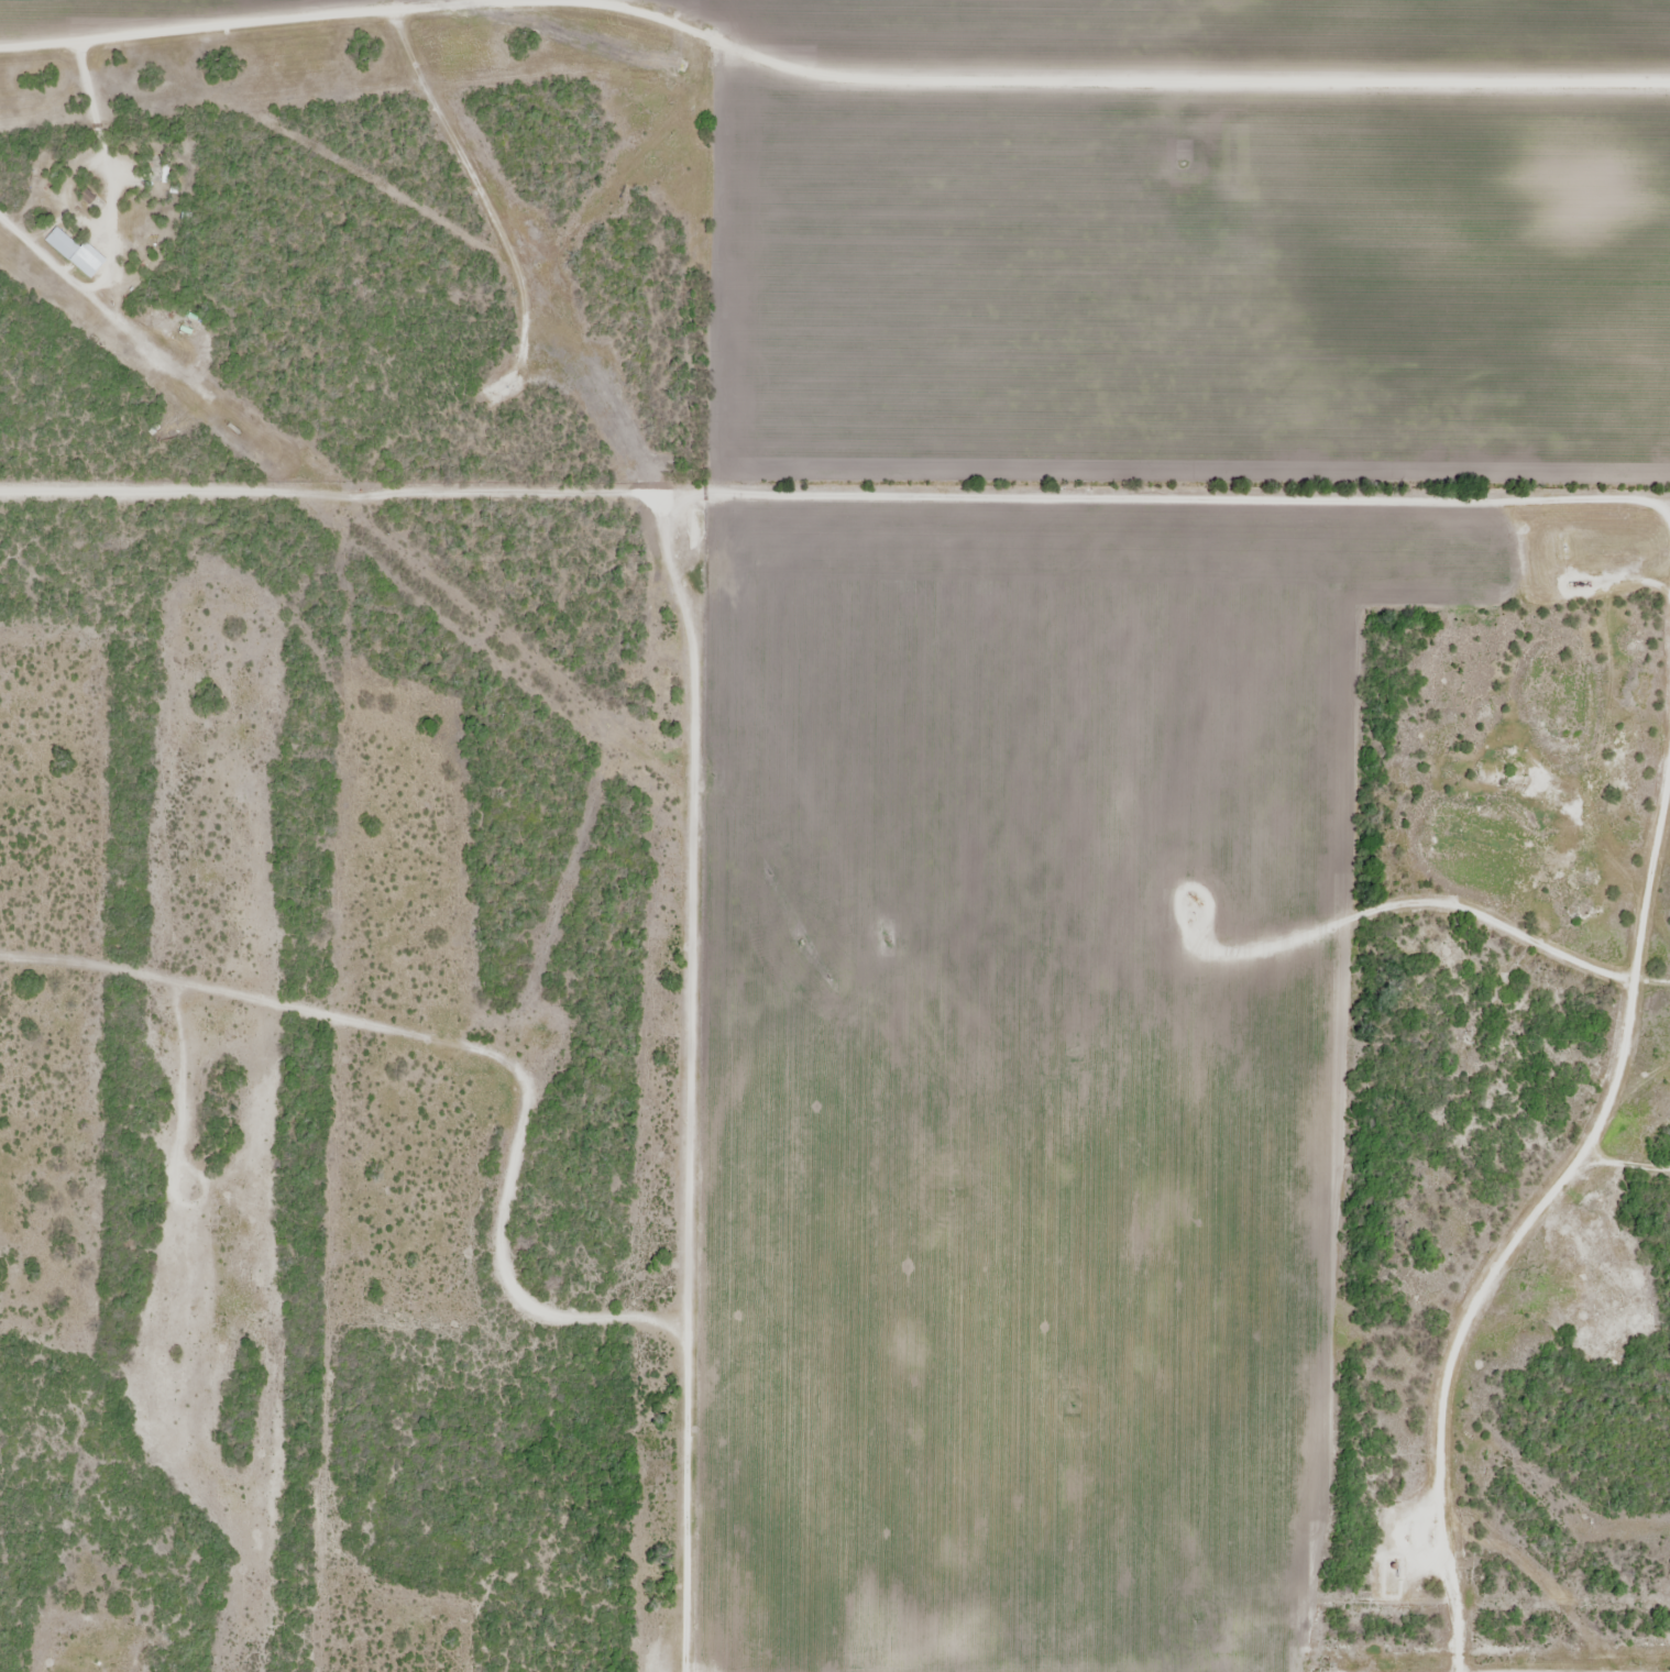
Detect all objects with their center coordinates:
building: (61, 244)

